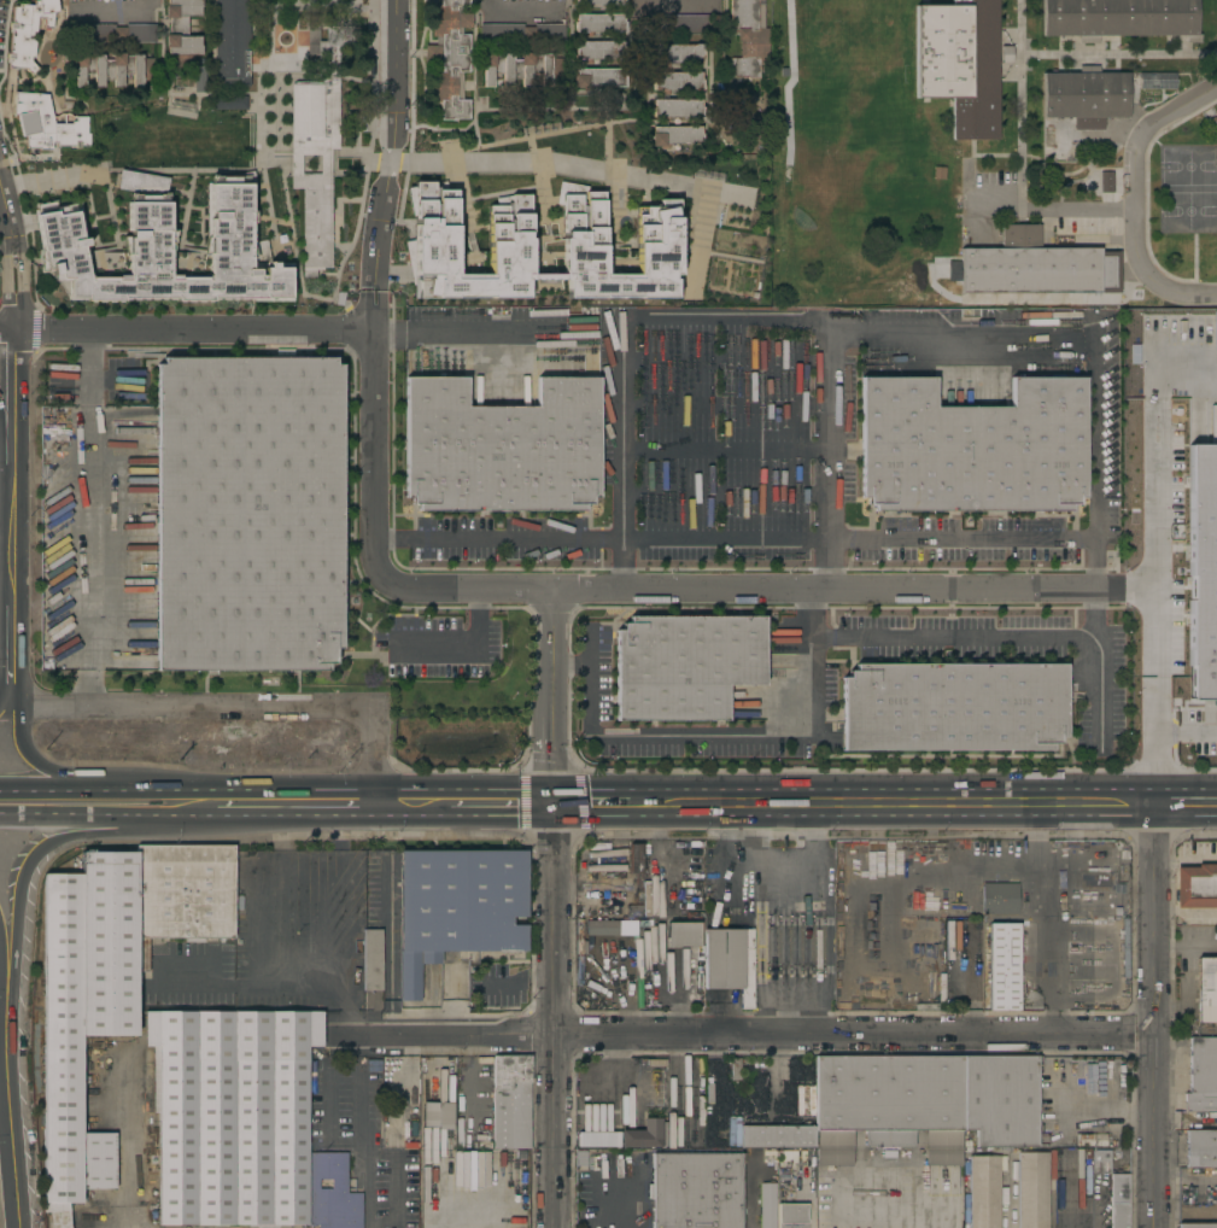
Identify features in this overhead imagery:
building: (597, 2)
road: (519, 5)
road: (669, 5)
road: (116, 6)
building: (1119, 18)
building: (598, 23)
building: (683, 23)
building: (181, 31)
building: (27, 33)
building: (113, 33)
building: (522, 33)
building: (747, 39)
building: (232, 43)
building: (597, 49)
building: (677, 53)
building: (449, 55)
building: (960, 63)
building: (111, 68)
building: (515, 68)
building: (597, 77)
building: (199, 78)
building: (675, 81)
building: (1157, 81)
building: (1084, 97)
building: (228, 103)
building: (675, 107)
building: (47, 124)
building: (674, 135)
building: (520, 136)
building: (316, 144)
road: (386, 165)
building: (65, 168)
road: (598, 169)
building: (1105, 182)
road: (48, 183)
building: (520, 191)
road: (1135, 197)
building: (598, 201)
road: (1057, 210)
building: (521, 218)
building: (748, 224)
building: (598, 229)
building: (521, 248)
building: (162, 250)
road: (13, 255)
building: (598, 256)
building: (1209, 256)
building: (439, 259)
building: (1034, 267)
building: (598, 283)
building: (521, 285)
road: (7, 327)
road: (425, 329)
road: (7, 332)
road: (1084, 343)
road: (729, 361)
road: (729, 409)
building: (501, 448)
building: (971, 448)
road: (727, 452)
road: (373, 457)
road: (622, 458)
road: (833, 458)
road: (12, 468)
road: (6, 484)
road: (727, 497)
building: (247, 513)
road: (88, 515)
road: (732, 539)
road: (1155, 556)
road: (470, 591)
road: (694, 591)
road: (961, 591)
road: (1123, 591)
road: (969, 637)
road: (463, 648)
road: (10, 653)
building: (684, 666)
road: (555, 696)
road: (4, 701)
road: (236, 704)
building: (953, 707)
road: (1186, 725)
road: (713, 731)
road: (47, 767)
road: (171, 788)
road: (64, 789)
road: (597, 802)
road: (291, 803)
road: (405, 803)
road: (497, 803)
traffic signals: (554, 803)
road: (897, 805)
road: (1186, 805)
road: (106, 813)
road: (31, 854)
road: (1186, 855)
building: (634, 865)
road: (735, 867)
building: (1195, 887)
building: (182, 894)
building: (684, 899)
building: (999, 899)
building: (963, 906)
building: (457, 907)
road: (1045, 917)
building: (601, 928)
building: (683, 934)
building: (579, 936)
road: (280, 942)
building: (371, 959)
road: (735, 959)
building: (729, 961)
building: (1002, 966)
road: (966, 980)
road: (1, 981)
building: (1206, 990)
building: (369, 1000)
road: (733, 1010)
building: (83, 1013)
road: (551, 1014)
road: (1155, 1016)
road: (756, 1030)
building: (915, 1049)
road: (324, 1064)
building: (1203, 1065)
building: (403, 1098)
building: (803, 1100)
building: (510, 1101)
building: (1200, 1103)
building: (923, 1104)
building: (232, 1115)
building: (1201, 1115)
building: (438, 1116)
road: (7, 1121)
building: (707, 1124)
building: (644, 1134)
building: (732, 1134)
building: (777, 1136)
building: (596, 1139)
building: (1093, 1140)
building: (1200, 1148)
building: (1099, 1162)
road: (359, 1169)
road: (391, 1169)
building: (1031, 1189)
building: (695, 1191)
building: (330, 1192)
building: (983, 1192)
road: (625, 1199)
building: (1118, 1200)
building: (766, 1205)
road: (900, 1206)
building: (791, 1216)
building: (1196, 1226)

